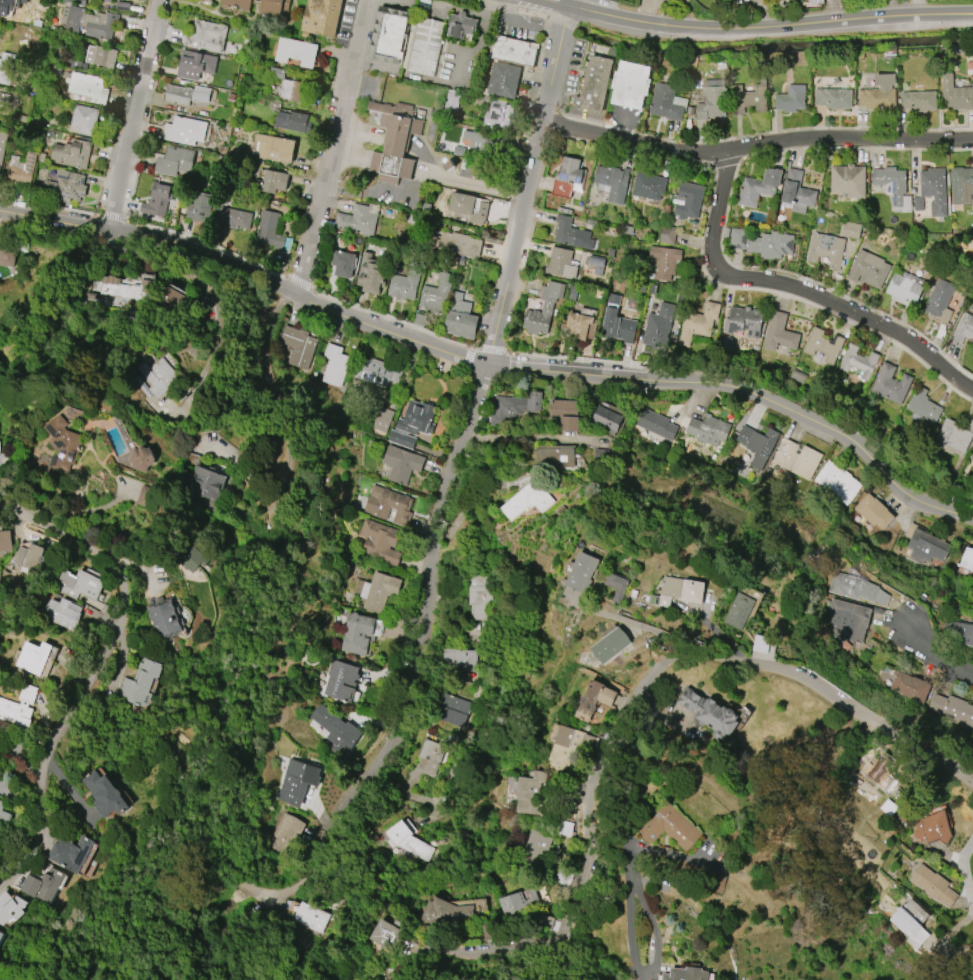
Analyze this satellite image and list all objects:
building: (124, 0)
building: (211, 0)
building: (815, 1)
building: (5, 2)
building: (28, 3)
building: (239, 3)
building: (274, 8)
road: (461, 9)
building: (322, 17)
building: (86, 20)
building: (461, 25)
road: (755, 25)
parking lot: (523, 26)
building: (389, 34)
building: (207, 36)
road: (475, 44)
building: (423, 45)
building: (513, 50)
building: (295, 51)
building: (102, 56)
building: (198, 65)
building: (6, 67)
building: (505, 79)
building: (631, 84)
building: (594, 85)
building: (89, 87)
building: (294, 90)
building: (186, 94)
building: (956, 94)
building: (750, 97)
building: (833, 98)
building: (5, 99)
building: (791, 99)
building: (878, 99)
building: (712, 100)
building: (919, 101)
building: (668, 102)
road: (131, 113)
building: (498, 113)
building: (84, 120)
building: (295, 121)
building: (186, 132)
building: (394, 140)
building: (486, 142)
building: (3, 145)
road: (329, 147)
building: (276, 148)
road: (757, 148)
building: (73, 153)
building: (175, 162)
building: (22, 168)
building: (569, 178)
building: (849, 180)
building: (274, 181)
building: (612, 182)
building: (962, 185)
road: (476, 186)
building: (649, 186)
building: (65, 187)
building: (760, 187)
building: (894, 187)
building: (935, 190)
building: (797, 193)
building: (158, 199)
building: (687, 200)
building: (467, 202)
building: (200, 207)
building: (234, 218)
building: (358, 219)
building: (850, 230)
building: (272, 232)
building: (568, 232)
building: (667, 234)
building: (455, 243)
building: (763, 243)
park: (959, 247)
building: (827, 252)
building: (7, 256)
building: (665, 262)
building: (562, 263)
building: (342, 264)
building: (869, 269)
building: (369, 275)
building: (403, 286)
building: (125, 288)
building: (905, 289)
road: (800, 291)
building: (437, 293)
building: (172, 296)
building: (940, 301)
building: (544, 308)
road: (958, 314)
building: (744, 321)
building: (699, 323)
building: (461, 324)
building: (579, 325)
building: (659, 325)
building: (619, 328)
building: (964, 328)
building: (780, 334)
building: (824, 345)
building: (972, 346)
building: (301, 349)
road: (941, 357)
building: (858, 361)
building: (335, 365)
road: (492, 367)
building: (376, 374)
building: (160, 376)
building: (891, 384)
road: (481, 400)
building: (923, 406)
building: (514, 407)
building: (566, 414)
building: (417, 418)
building: (608, 418)
building: (656, 424)
road: (287, 430)
building: (709, 430)
building: (955, 435)
road: (537, 437)
building: (756, 439)
building: (64, 446)
building: (0, 452)
building: (140, 458)
building: (556, 458)
building: (796, 459)
building: (971, 460)
building: (402, 463)
building: (837, 482)
building: (208, 483)
building: (528, 500)
building: (388, 506)
building: (874, 512)
building: (5, 540)
building: (380, 542)
building: (926, 547)
building: (33, 557)
building: (967, 559)
building: (582, 572)
building: (80, 585)
building: (856, 587)
building: (614, 588)
building: (379, 591)
building: (681, 591)
building: (481, 597)
building: (740, 611)
building: (63, 613)
building: (165, 616)
building: (847, 620)
road: (632, 623)
building: (358, 627)
building: (959, 634)
building: (611, 645)
road: (685, 656)
building: (35, 657)
road: (933, 658)
building: (462, 659)
road: (113, 671)
building: (341, 680)
building: (141, 683)
building: (910, 687)
building: (592, 702)
building: (19, 707)
building: (953, 708)
building: (456, 711)
building: (709, 714)
building: (337, 731)
building: (570, 746)
building: (430, 757)
building: (880, 768)
building: (297, 778)
building: (106, 794)
building: (528, 794)
building: (4, 812)
building: (671, 827)
building: (933, 828)
building: (286, 834)
building: (410, 841)
building: (536, 846)
building: (72, 852)
road: (962, 871)
road: (260, 883)
building: (43, 884)
building: (933, 885)
building: (518, 901)
building: (10, 907)
building: (447, 913)
building: (310, 918)
building: (919, 922)
building: (0, 934)
building: (388, 936)
road: (496, 949)
building: (686, 973)

